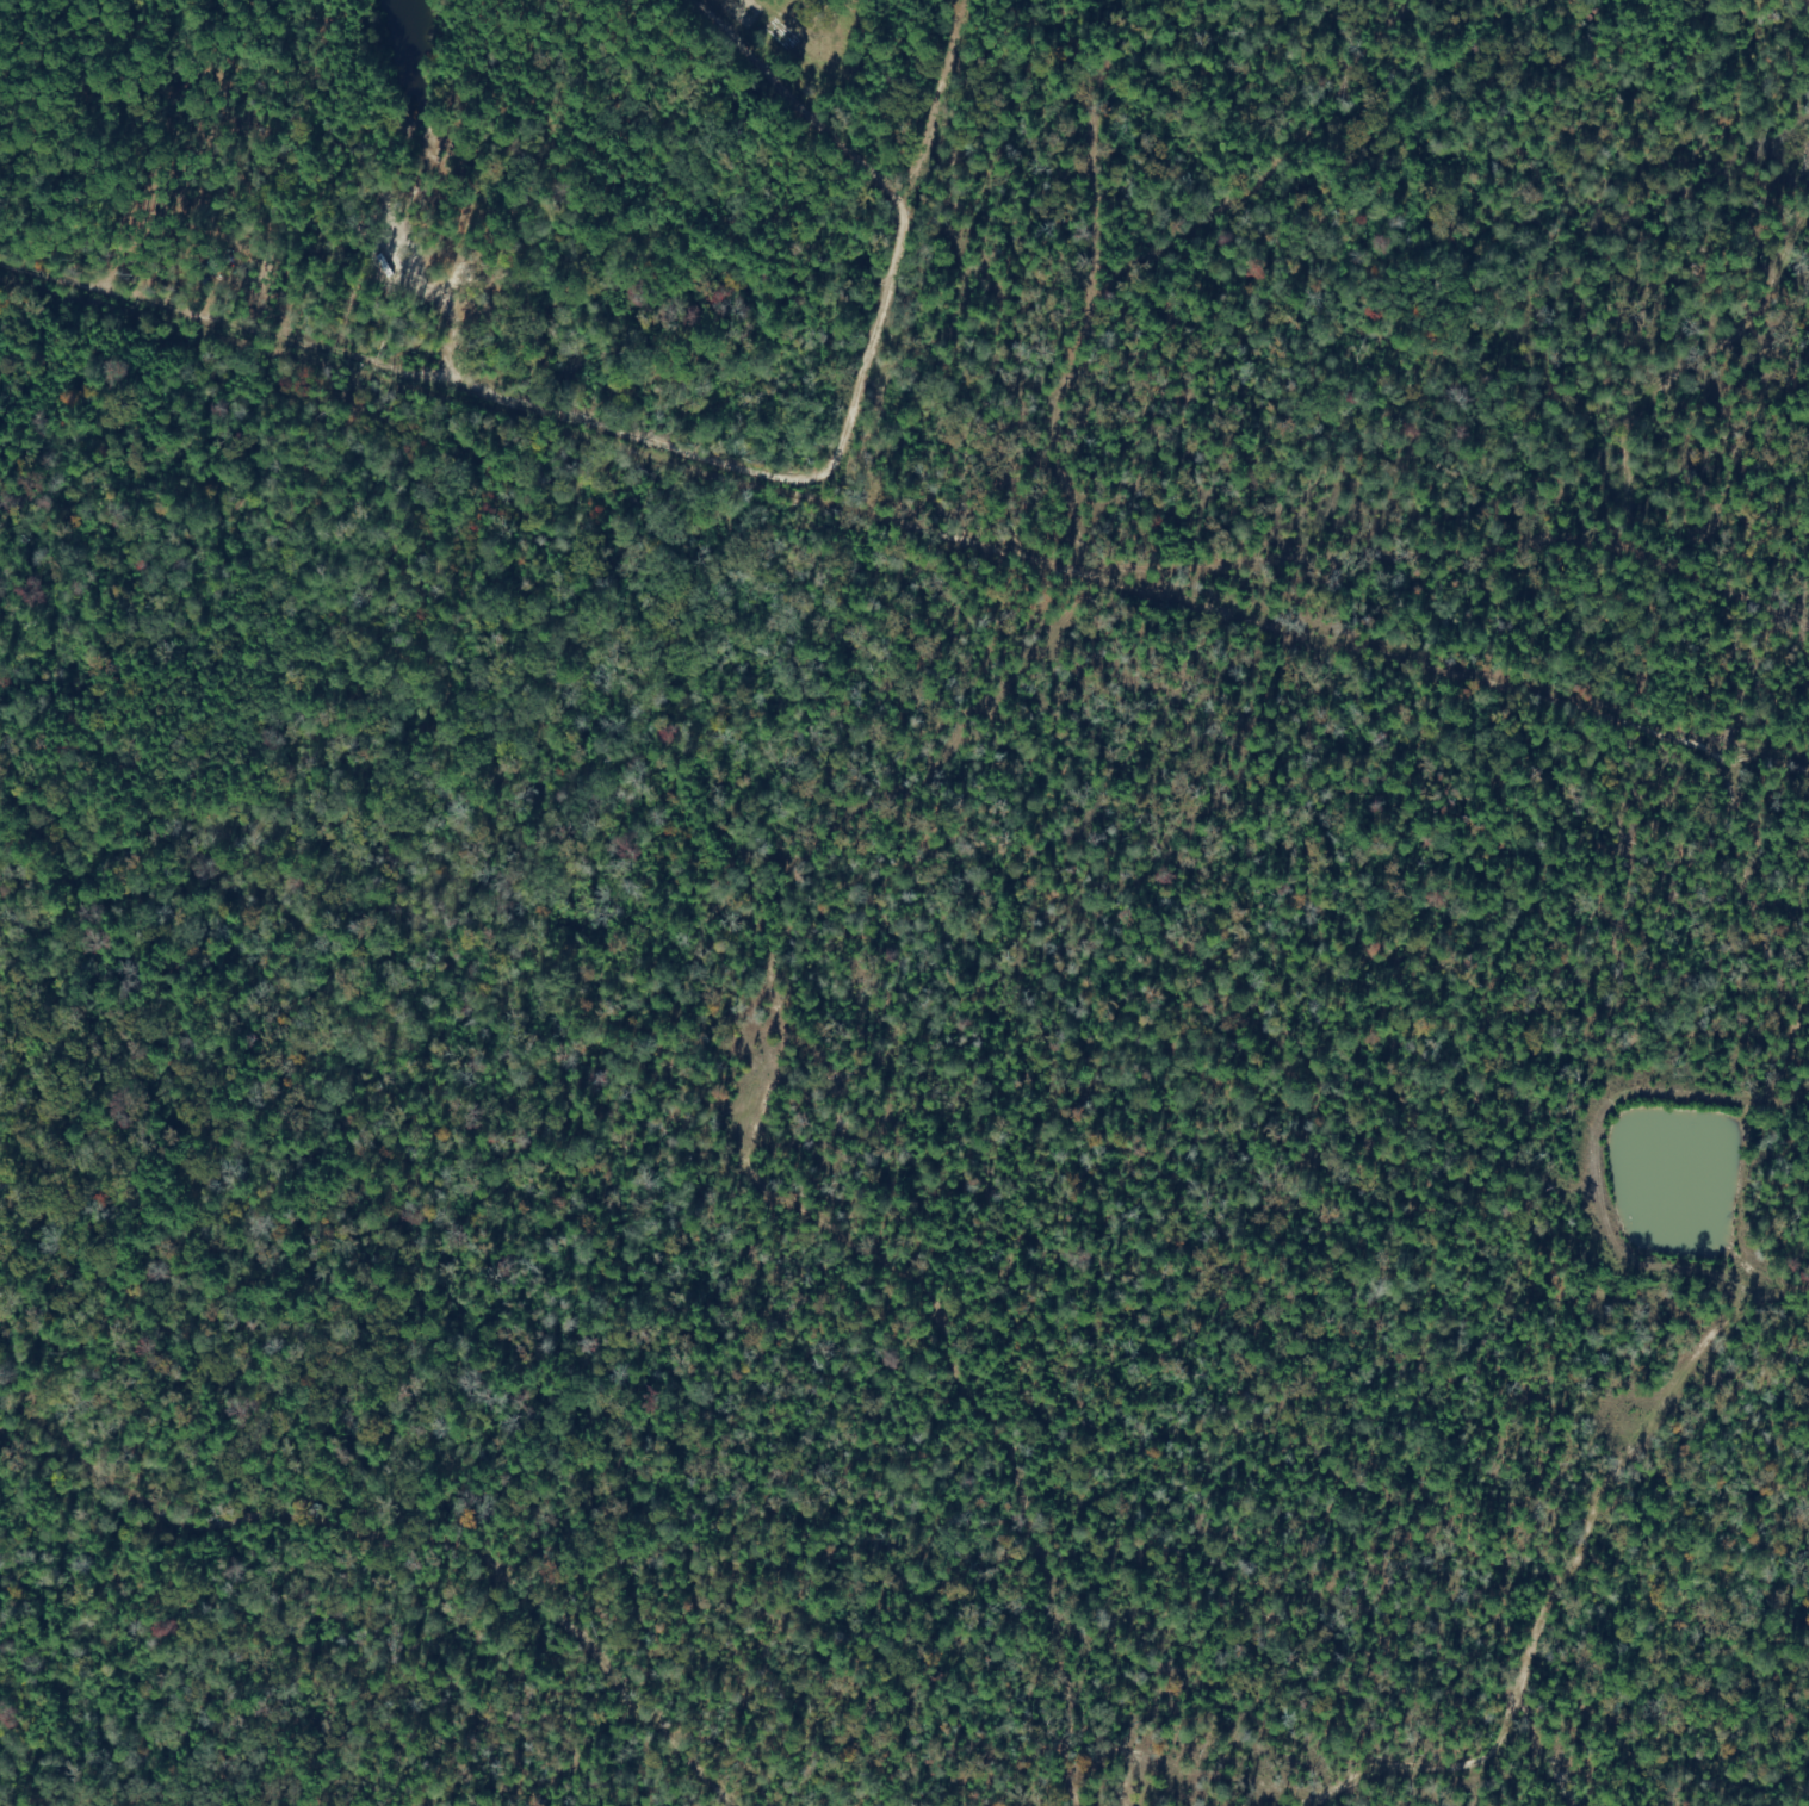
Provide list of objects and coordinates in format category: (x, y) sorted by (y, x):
road: (1808, 0)
road: (906, 77)
road: (544, 395)

